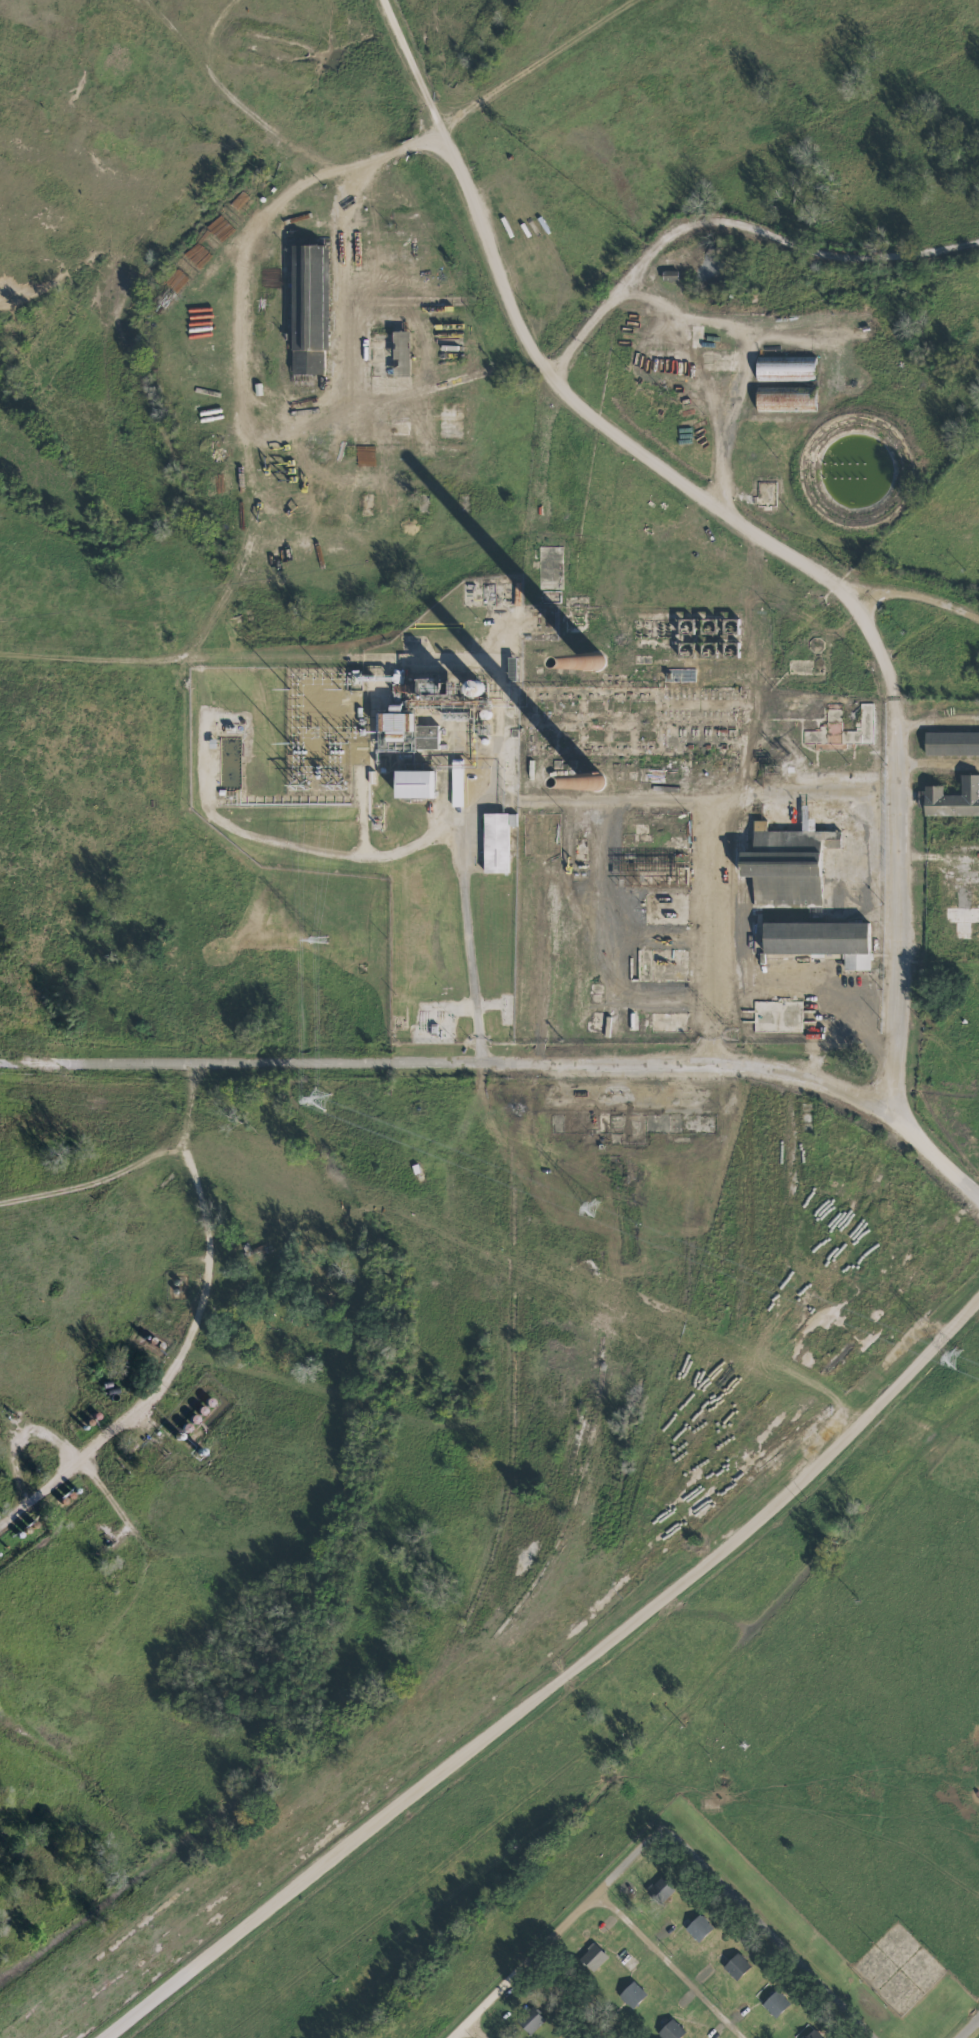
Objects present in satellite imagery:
road: (535, 64)
building: (307, 306)
road: (713, 317)
building: (399, 353)
road: (531, 358)
road: (238, 359)
building: (783, 401)
road: (911, 596)
road: (212, 613)
road: (934, 717)
power substation: (323, 727)
building: (405, 729)
building: (951, 743)
road: (934, 762)
building: (411, 783)
power tower: (299, 786)
power tower: (336, 786)
building: (952, 798)
road: (706, 838)
building: (784, 863)
road: (891, 908)
power tower: (316, 940)
building: (818, 940)
road: (462, 944)
road: (443, 1062)
power tower: (313, 1100)
power tower: (591, 1208)
road: (191, 1333)
power tower: (954, 1359)
road: (105, 1494)
road: (552, 1673)
building: (658, 1889)
building: (697, 1927)
road: (770, 1931)
road: (562, 1932)
building: (591, 1957)
building: (735, 1965)
road: (669, 1966)
building: (630, 1994)
road: (570, 2000)
building: (774, 2003)
building: (529, 2020)
road: (970, 2029)
building: (669, 2030)
road: (476, 2031)
building: (812, 2034)

